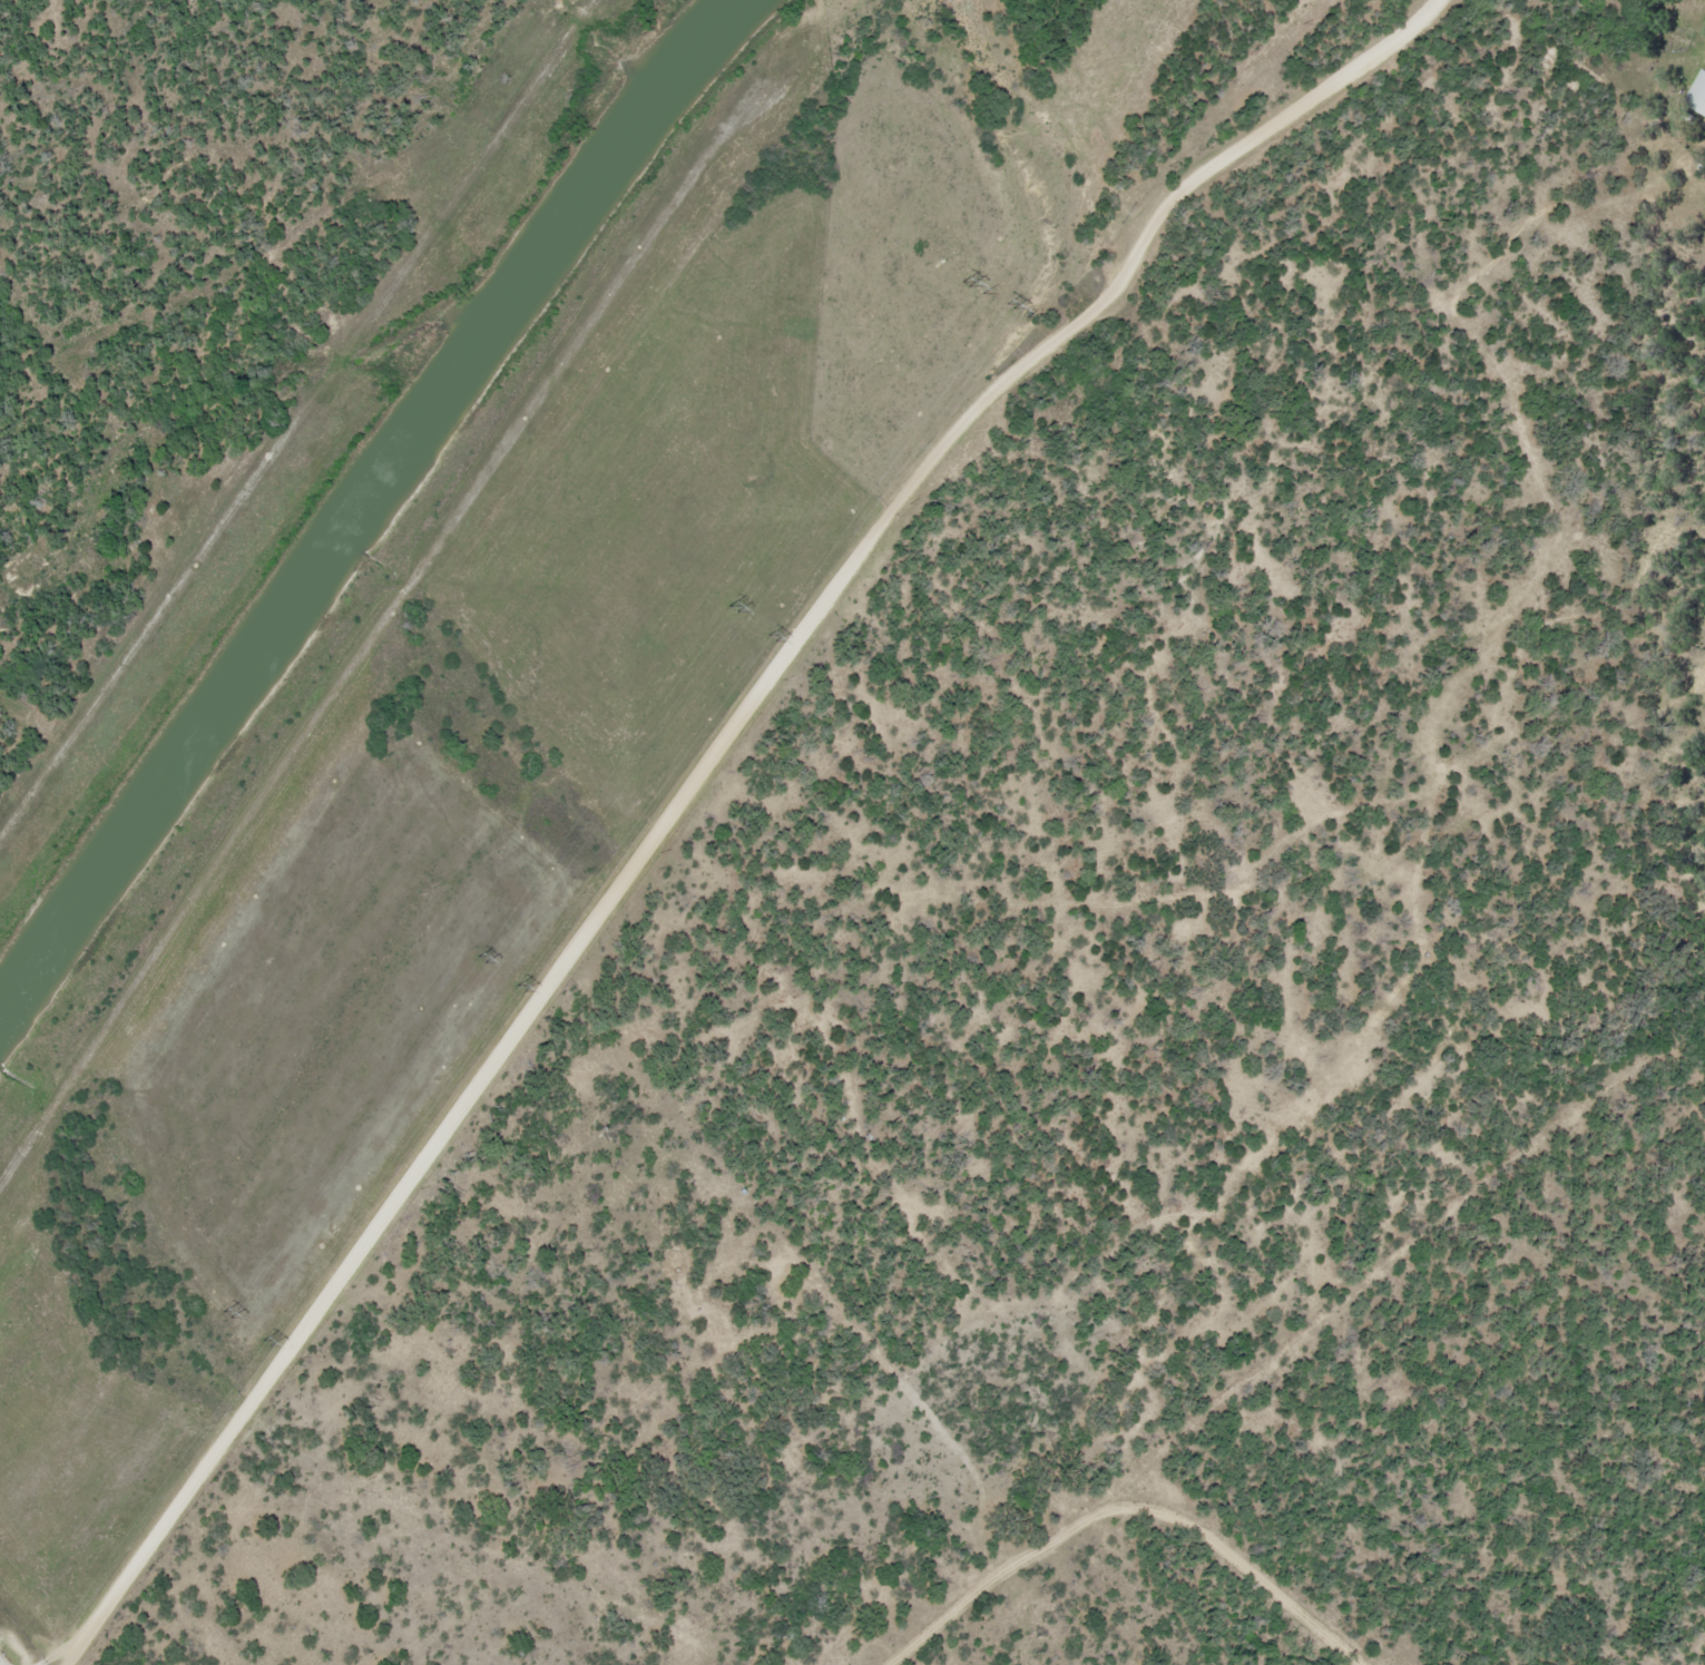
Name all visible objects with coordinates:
building: (1698, 96)
power tower: (977, 287)
power tower: (1007, 305)
road: (1070, 334)
road: (296, 413)
power tower: (732, 608)
power tower: (770, 637)
road: (371, 645)
power tower: (480, 960)
power tower: (519, 987)
road: (401, 1196)
power tower: (226, 1315)
power tower: (264, 1342)
road: (1127, 1509)

